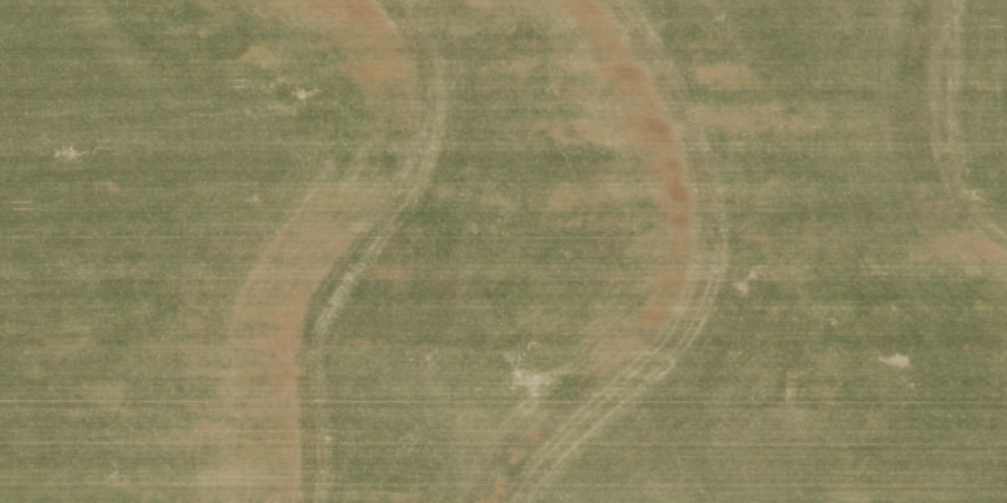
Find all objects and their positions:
crop: (503, 251)

